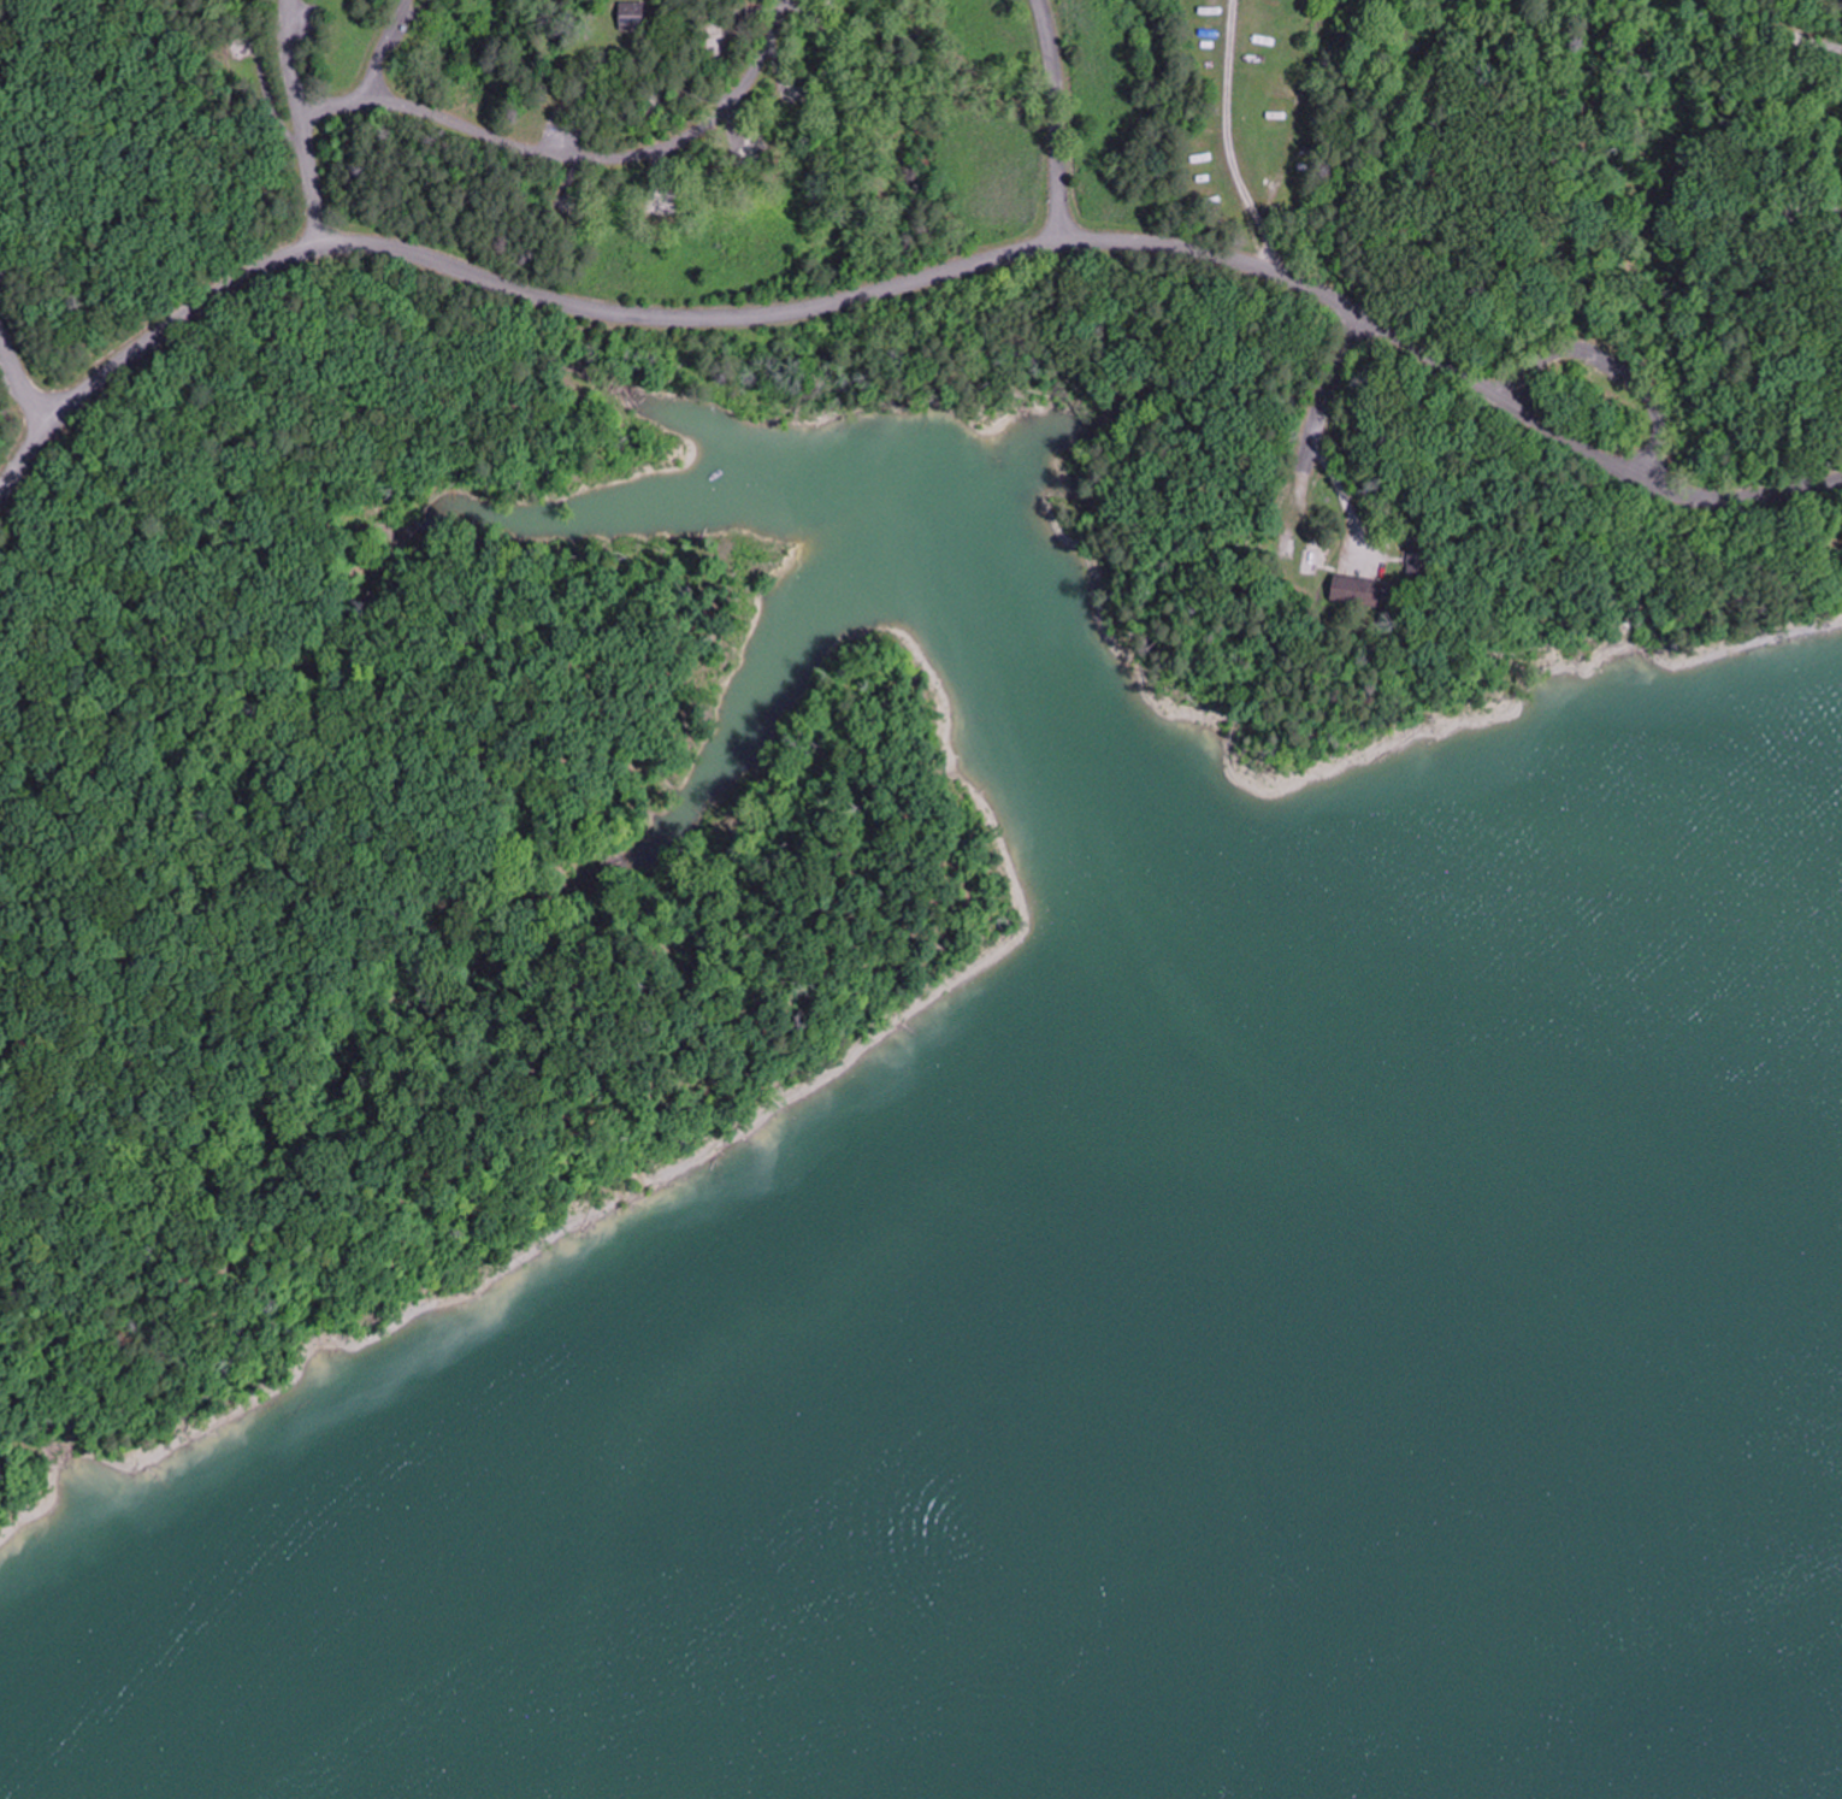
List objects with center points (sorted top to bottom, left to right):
building: (627, 17)
building: (786, 92)
road: (331, 100)
road: (1056, 119)
road: (300, 122)
road: (1228, 138)
road: (554, 152)
road: (486, 277)
road: (1617, 361)
road: (1452, 368)
road: (20, 382)
road: (1318, 430)
building: (1300, 564)
building: (1409, 564)
building: (1351, 592)

